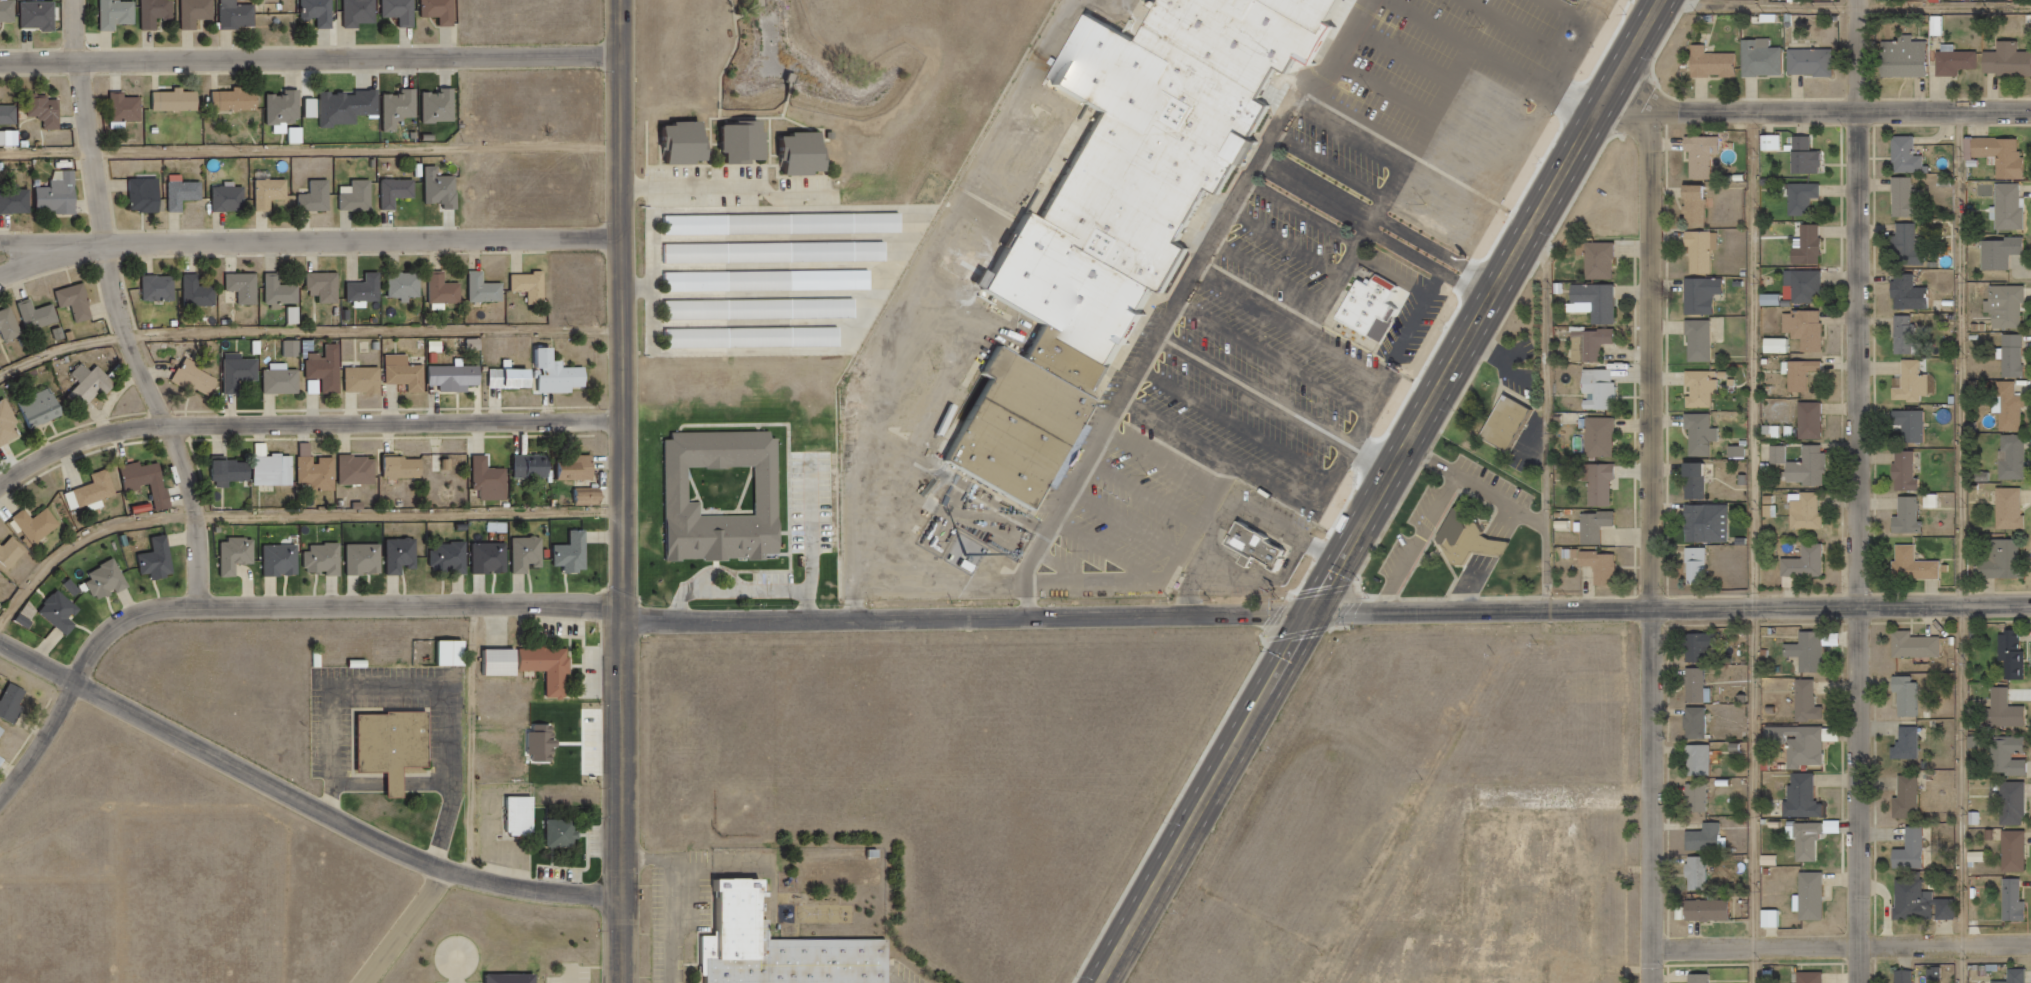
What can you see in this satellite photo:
road: (1844, 8)
building: (8, 11)
building: (404, 12)
building: (443, 12)
building: (1315, 12)
building: (322, 13)
building: (40, 14)
building: (159, 14)
building: (201, 14)
building: (363, 14)
building: (120, 16)
building: (240, 18)
building: (1241, 38)
road: (314, 57)
building: (1768, 62)
building: (1910, 62)
building: (2012, 63)
building: (1818, 65)
building: (1961, 65)
building: (1720, 67)
road: (1630, 101)
building: (237, 103)
building: (178, 104)
building: (314, 106)
building: (48, 110)
building: (351, 110)
road: (1944, 110)
building: (288, 111)
building: (442, 111)
road: (1755, 111)
building: (129, 112)
building: (402, 112)
building: (9, 113)
building: (12, 137)
building: (299, 139)
building: (744, 145)
building: (685, 146)
building: (1149, 151)
road: (313, 152)
building: (803, 154)
building: (1701, 154)
building: (1993, 154)
building: (1800, 156)
building: (1901, 156)
road: (731, 187)
building: (437, 188)
building: (392, 191)
building: (266, 193)
building: (178, 194)
building: (139, 195)
building: (310, 197)
building: (353, 197)
building: (61, 198)
building: (1899, 198)
building: (1800, 199)
building: (225, 200)
building: (17, 205)
building: (1694, 205)
building: (2004, 206)
road: (1373, 214)
building: (786, 227)
road: (1365, 229)
road: (310, 243)
building: (1903, 244)
building: (1802, 245)
road: (55, 246)
building: (1698, 251)
building: (1995, 252)
building: (777, 255)
building: (1599, 260)
road: (1481, 283)
building: (771, 284)
building: (319, 285)
building: (401, 285)
building: (526, 285)
building: (1800, 286)
building: (154, 287)
building: (240, 288)
building: (361, 288)
road: (1195, 288)
building: (439, 289)
building: (479, 290)
building: (193, 291)
building: (277, 291)
building: (1070, 292)
building: (1904, 293)
building: (1702, 295)
building: (1596, 301)
building: (80, 305)
building: (2002, 307)
road: (126, 308)
building: (1376, 308)
building: (764, 312)
building: (297, 314)
building: (41, 318)
building: (11, 327)
building: (1800, 329)
road: (309, 333)
building: (1903, 336)
building: (1698, 340)
building: (756, 341)
building: (477, 343)
building: (1596, 343)
building: (438, 345)
building: (259, 346)
building: (253, 347)
building: (288, 349)
building: (2008, 355)
building: (1072, 367)
building: (323, 368)
building: (400, 372)
building: (552, 372)
building: (236, 373)
building: (1796, 374)
building: (449, 376)
building: (504, 377)
building: (190, 378)
building: (359, 380)
building: (278, 381)
building: (1907, 383)
building: (316, 386)
building: (93, 388)
building: (1597, 389)
building: (1699, 390)
building: (1035, 400)
road: (1547, 403)
building: (2005, 408)
building: (42, 412)
building: (1805, 420)
road: (305, 423)
building: (1906, 425)
building: (1513, 426)
building: (8, 427)
building: (1700, 434)
building: (1599, 437)
building: (2008, 457)
building: (1007, 458)
building: (447, 464)
building: (396, 467)
building: (527, 467)
building: (569, 467)
building: (1802, 467)
building: (270, 469)
building: (353, 470)
building: (1900, 471)
building: (224, 472)
building: (314, 472)
building: (486, 480)
building: (1597, 481)
building: (1692, 481)
building: (152, 485)
road: (626, 491)
building: (680, 491)
road: (1380, 491)
road: (1857, 491)
building: (100, 494)
building: (583, 495)
building: (2004, 508)
building: (1802, 511)
building: (1902, 516)
road: (288, 518)
building: (1706, 523)
building: (1594, 527)
building: (41, 528)
building: (1474, 541)
road: (1759, 546)
road: (1967, 546)
road: (1652, 547)
building: (1261, 549)
building: (13, 558)
building: (240, 558)
building: (530, 558)
building: (575, 558)
building: (404, 559)
building: (1996, 559)
building: (161, 561)
building: (331, 561)
building: (452, 561)
building: (493, 561)
building: (284, 563)
building: (368, 563)
building: (1800, 563)
building: (1909, 565)
building: (1696, 566)
building: (1601, 567)
building: (0, 583)
building: (111, 583)
building: (0, 594)
road: (264, 605)
road: (1944, 607)
traffic signals: (1311, 614)
road: (1243, 615)
building: (63, 616)
building: (1911, 645)
building: (1695, 646)
building: (1802, 650)
building: (2008, 650)
building: (453, 656)
building: (502, 665)
building: (551, 671)
building: (1690, 684)
building: (1902, 694)
building: (1804, 699)
building: (14, 707)
building: (2000, 708)
building: (1690, 722)
building: (2, 738)
road: (477, 741)
building: (543, 742)
building: (1902, 744)
building: (1801, 746)
building: (395, 747)
building: (2003, 754)
building: (1694, 759)
building: (1797, 796)
road: (304, 797)
building: (1693, 797)
building: (1902, 797)
building: (2008, 803)
building: (523, 817)
building: (566, 838)
building: (1703, 838)
building: (1804, 841)
building: (1906, 850)
building: (2009, 851)
building: (1693, 873)
building: (1807, 895)
building: (2009, 900)
building: (1916, 902)
building: (1702, 909)
building: (1493, 910)
road: (413, 927)
road: (1945, 945)
road: (1755, 946)
building: (781, 948)
building: (1316, 948)
building: (1900, 975)
building: (2010, 976)
building: (1341, 977)
building: (1694, 977)
building: (1806, 977)
building: (514, 980)

